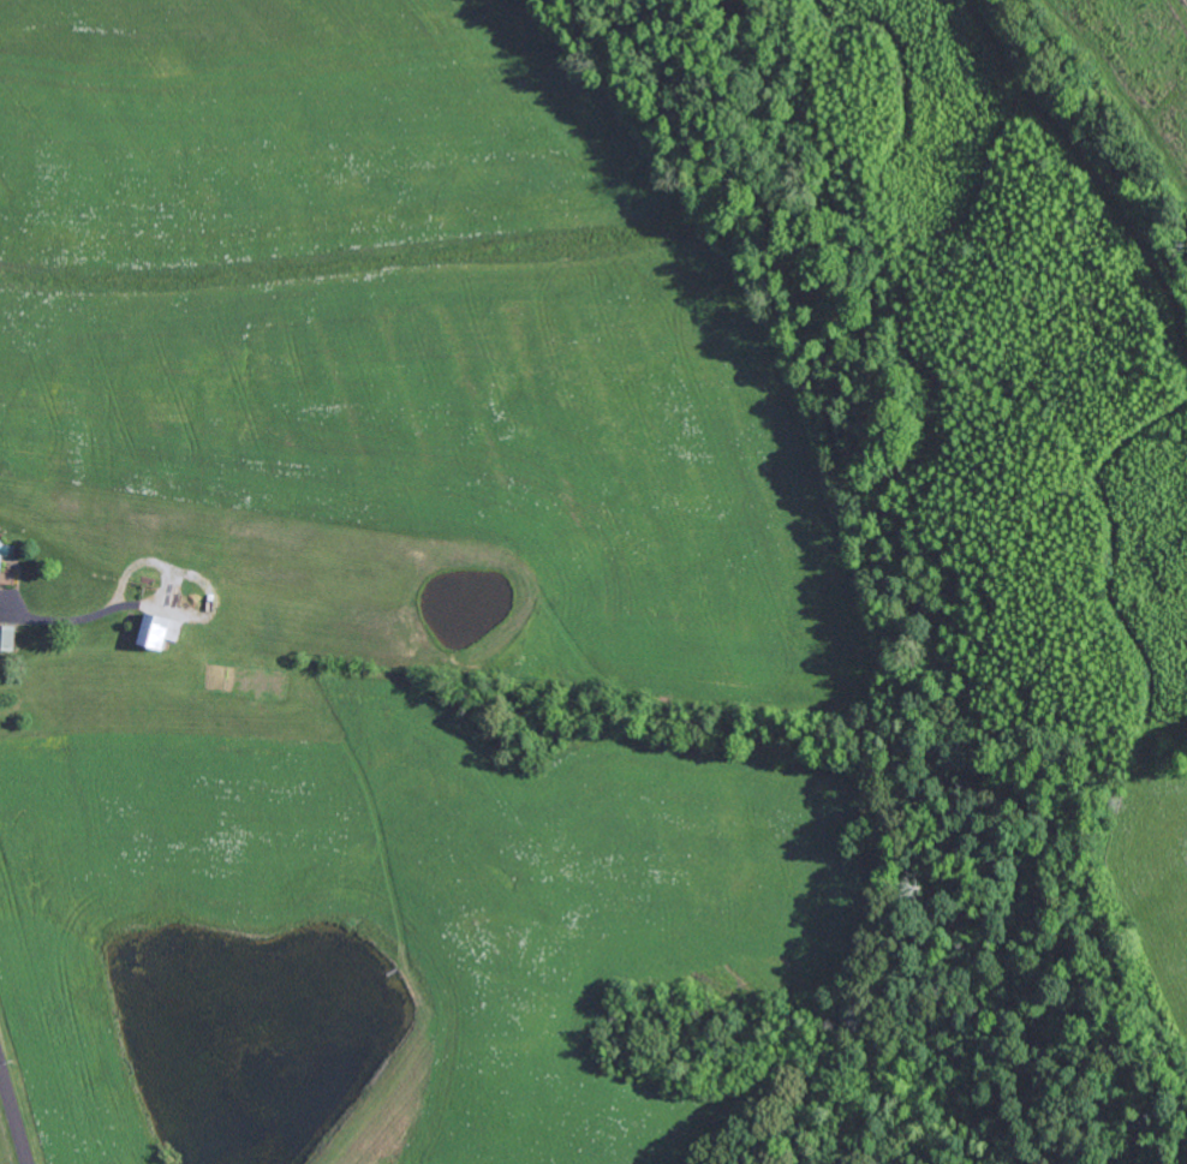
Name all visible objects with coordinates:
building: (7, 559)
building: (165, 631)
building: (11, 638)
road: (14, 1108)

